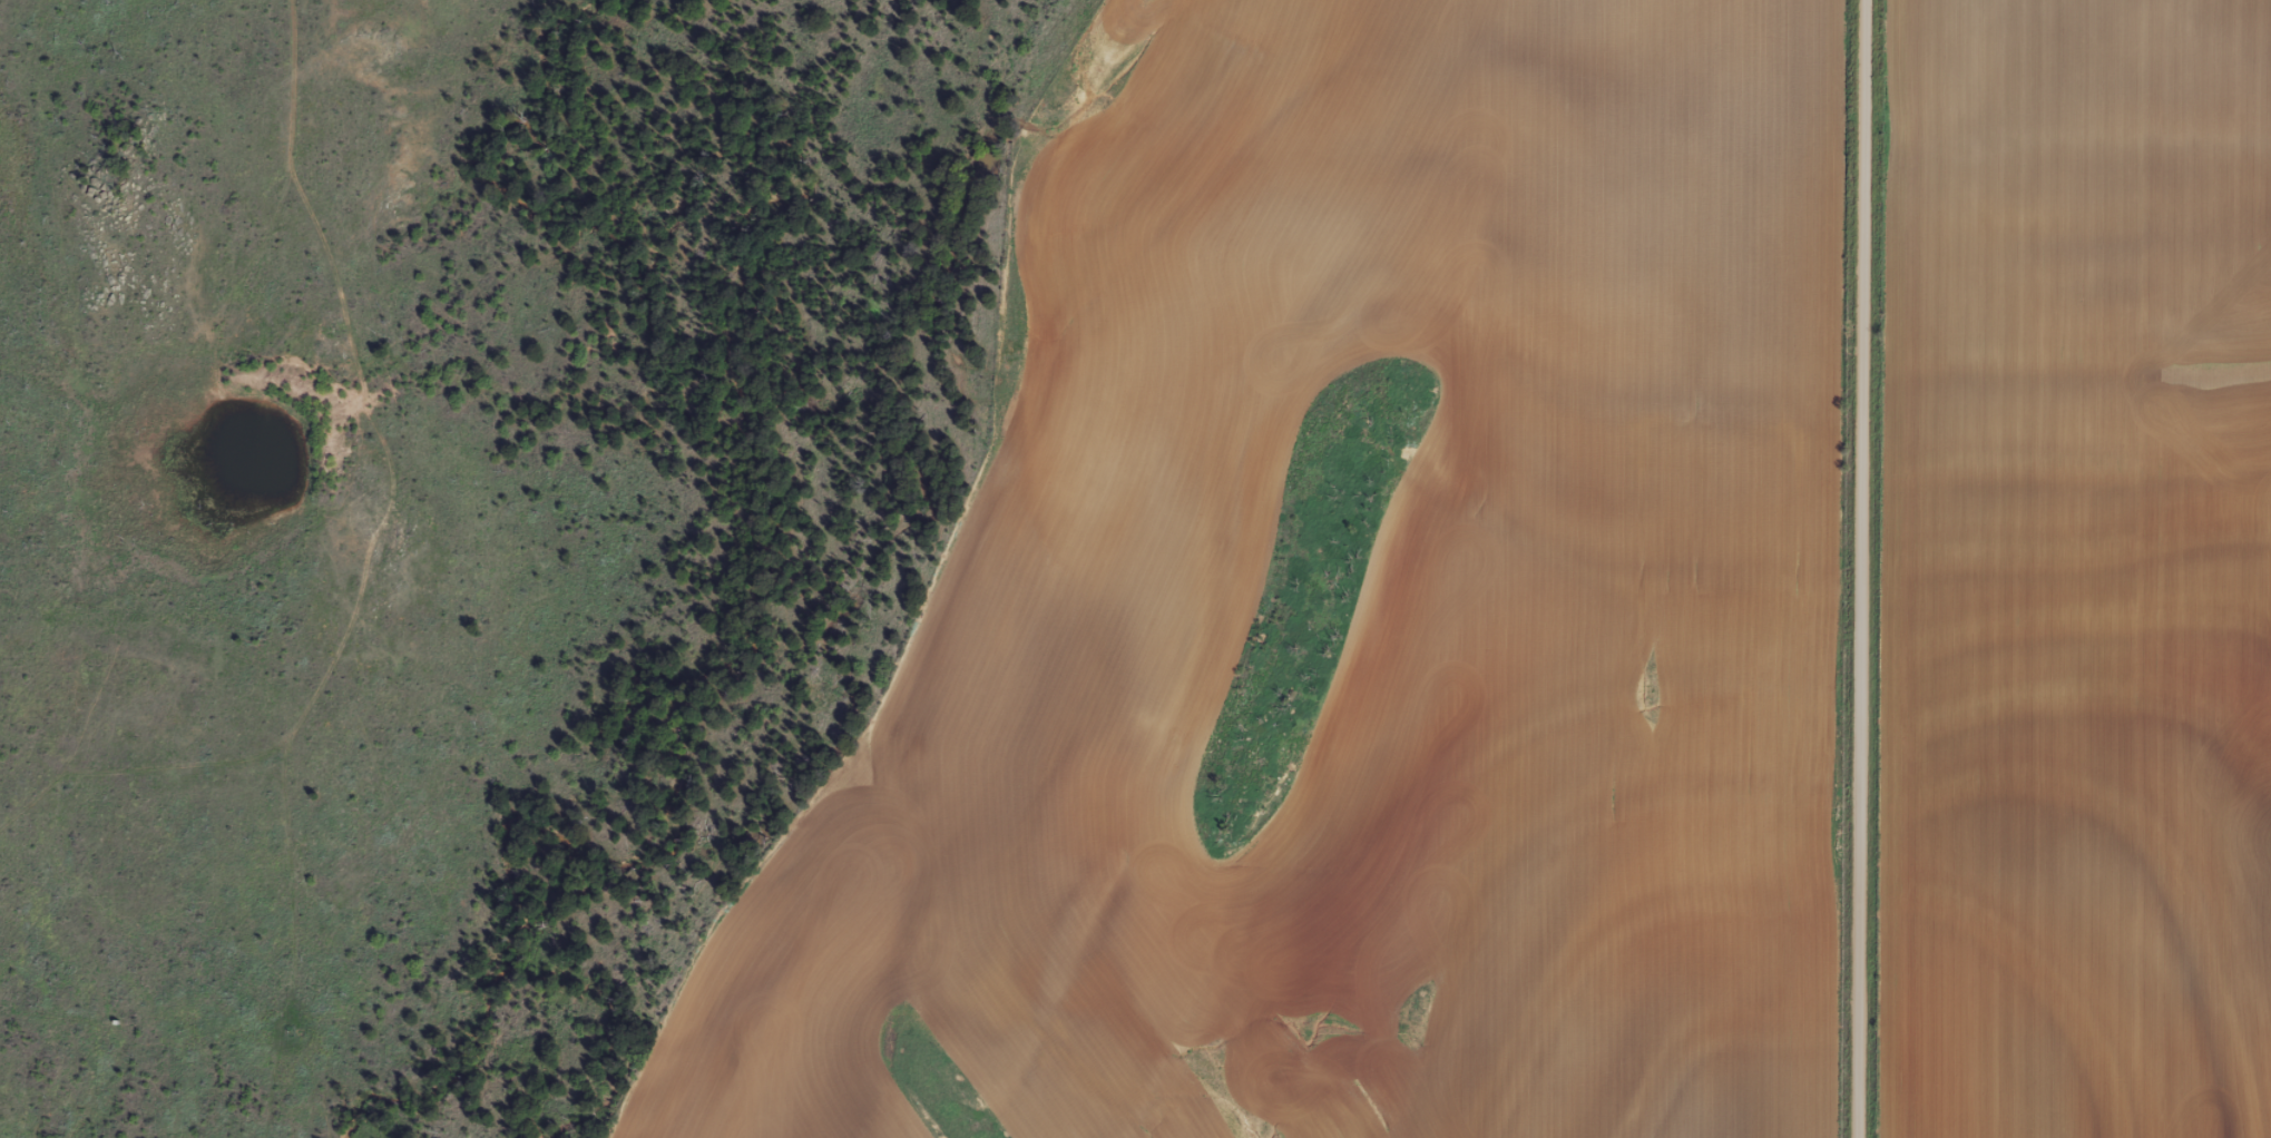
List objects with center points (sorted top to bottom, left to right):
road: (1866, 569)

